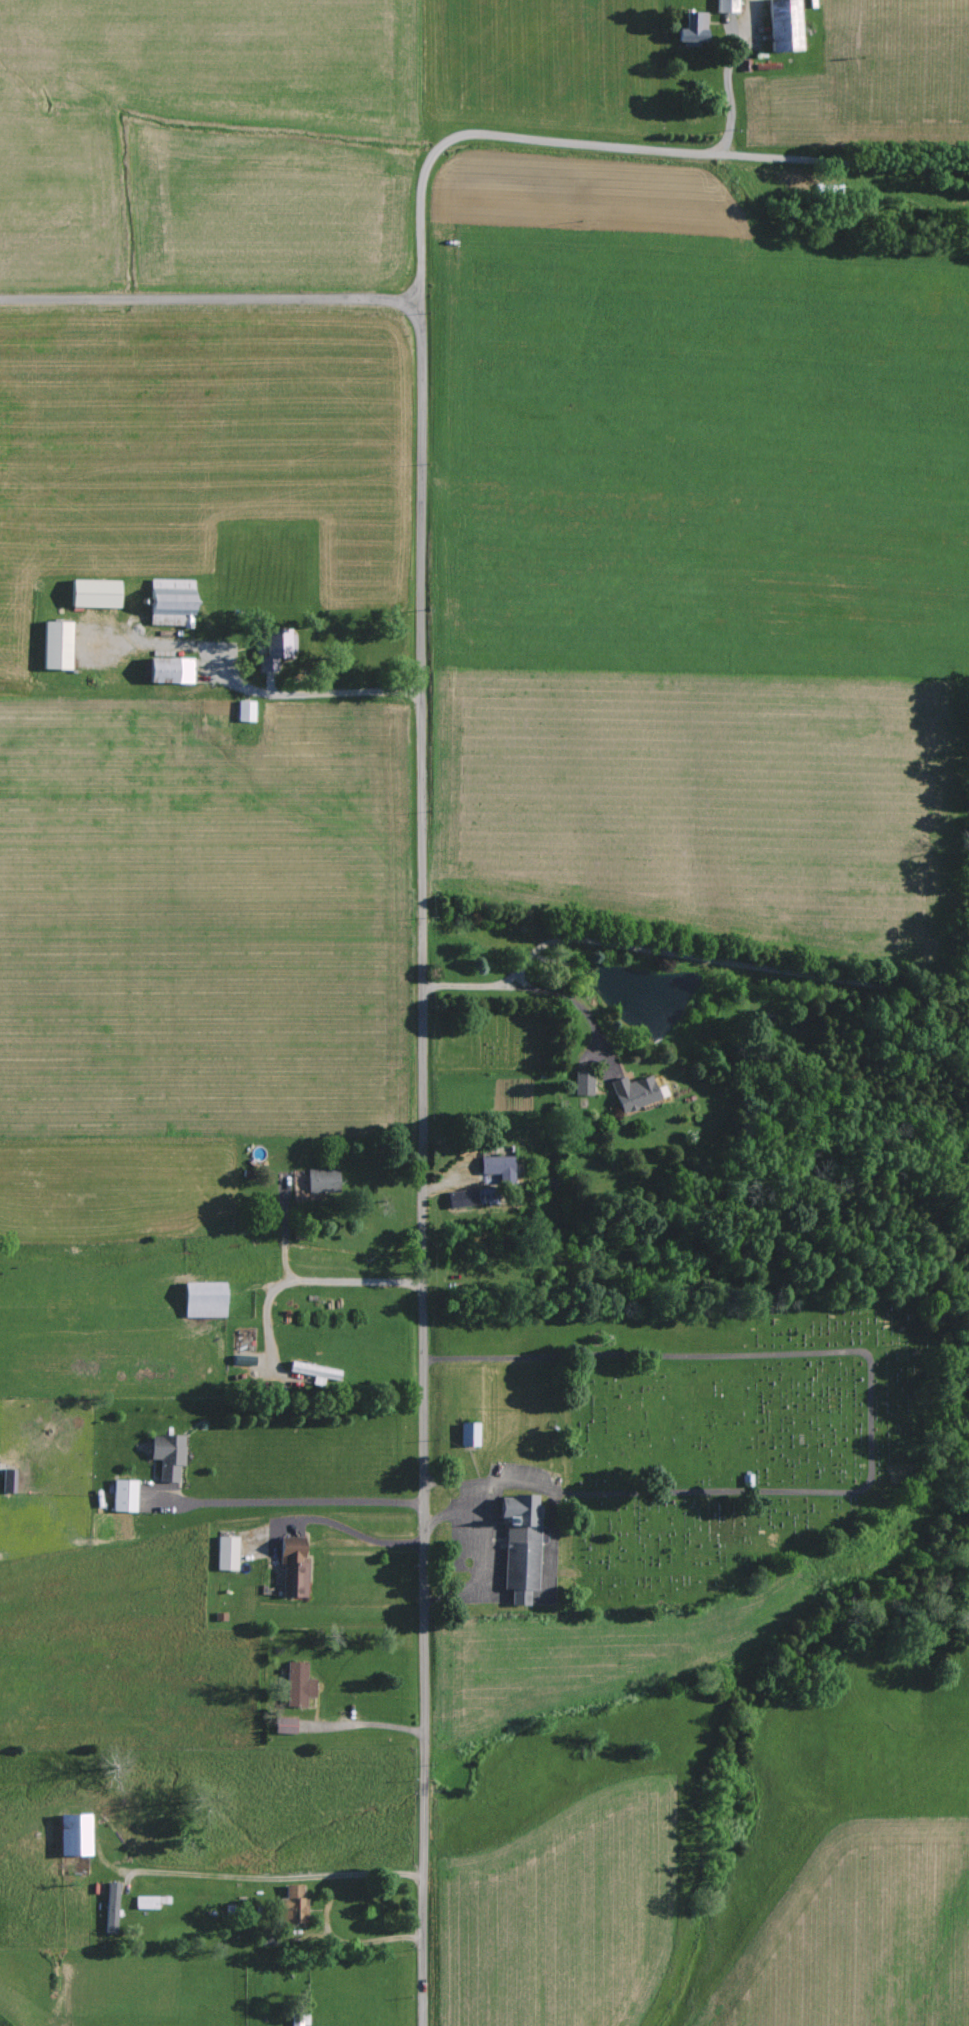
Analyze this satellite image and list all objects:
building: (726, 6)
building: (784, 25)
building: (693, 27)
road: (722, 95)
crop: (171, 101)
road: (625, 152)
road: (210, 302)
building: (170, 601)
building: (56, 645)
building: (275, 649)
building: (171, 670)
road: (322, 696)
building: (245, 711)
road: (718, 963)
road: (546, 991)
building: (582, 1083)
building: (633, 1093)
road: (424, 1163)
building: (498, 1168)
building: (322, 1182)
building: (461, 1199)
road: (302, 1283)
building: (203, 1300)
road: (867, 1362)
building: (315, 1373)
building: (468, 1435)
building: (167, 1456)
building: (7, 1481)
building: (123, 1496)
road: (302, 1506)
road: (334, 1547)
building: (521, 1548)
building: (226, 1554)
building: (293, 1568)
building: (297, 1686)
building: (285, 1726)
road: (353, 1727)
building: (74, 1833)
building: (145, 1902)
building: (292, 1905)
building: (298, 2019)

